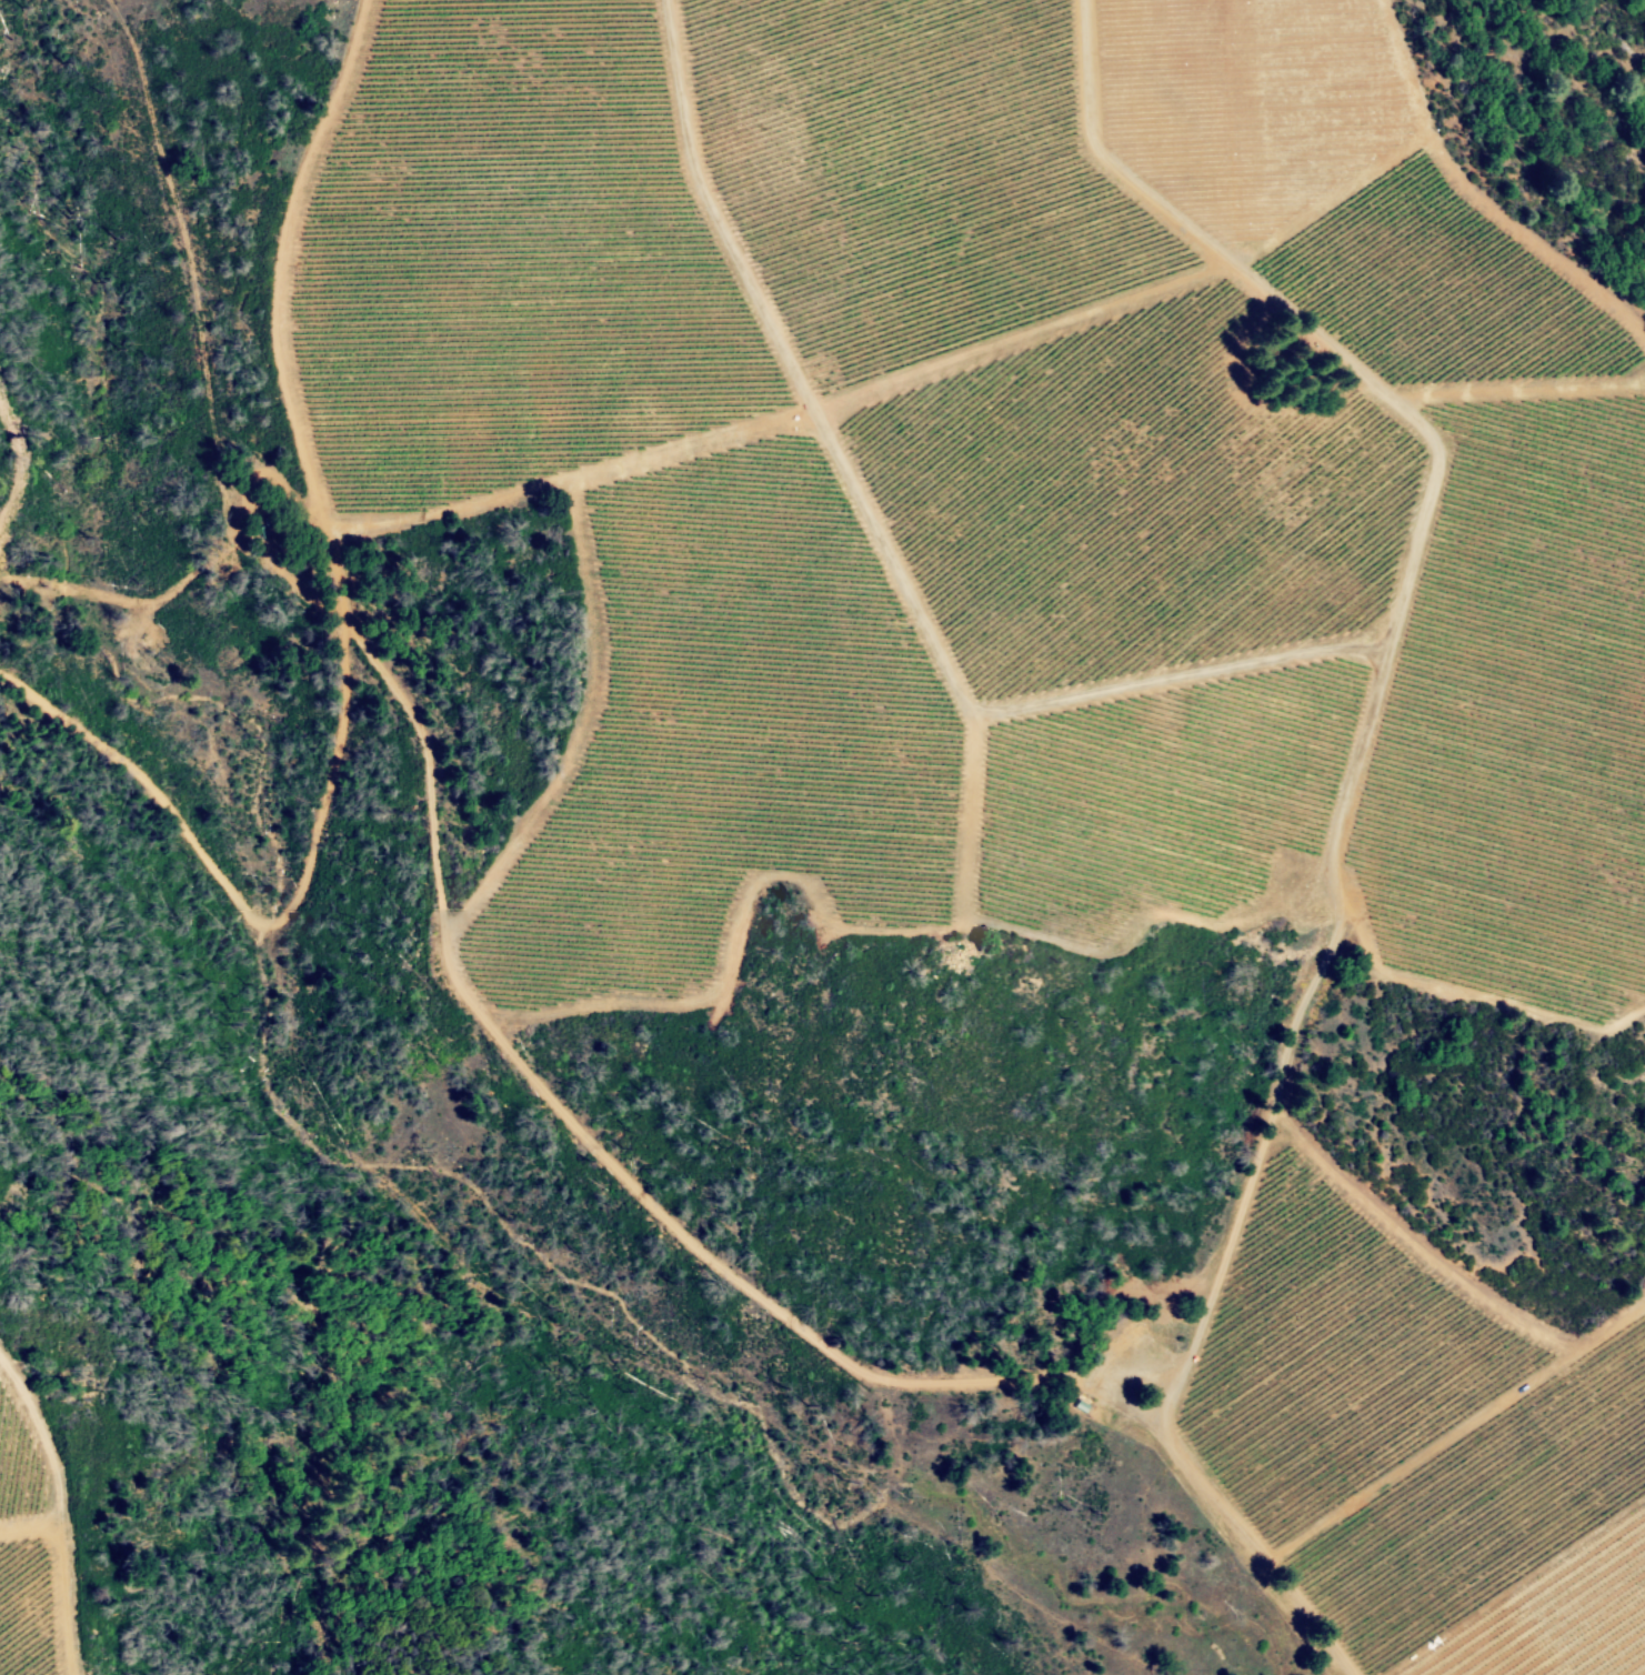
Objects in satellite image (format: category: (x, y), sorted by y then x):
road: (682, 1362)
road: (69, 1505)

